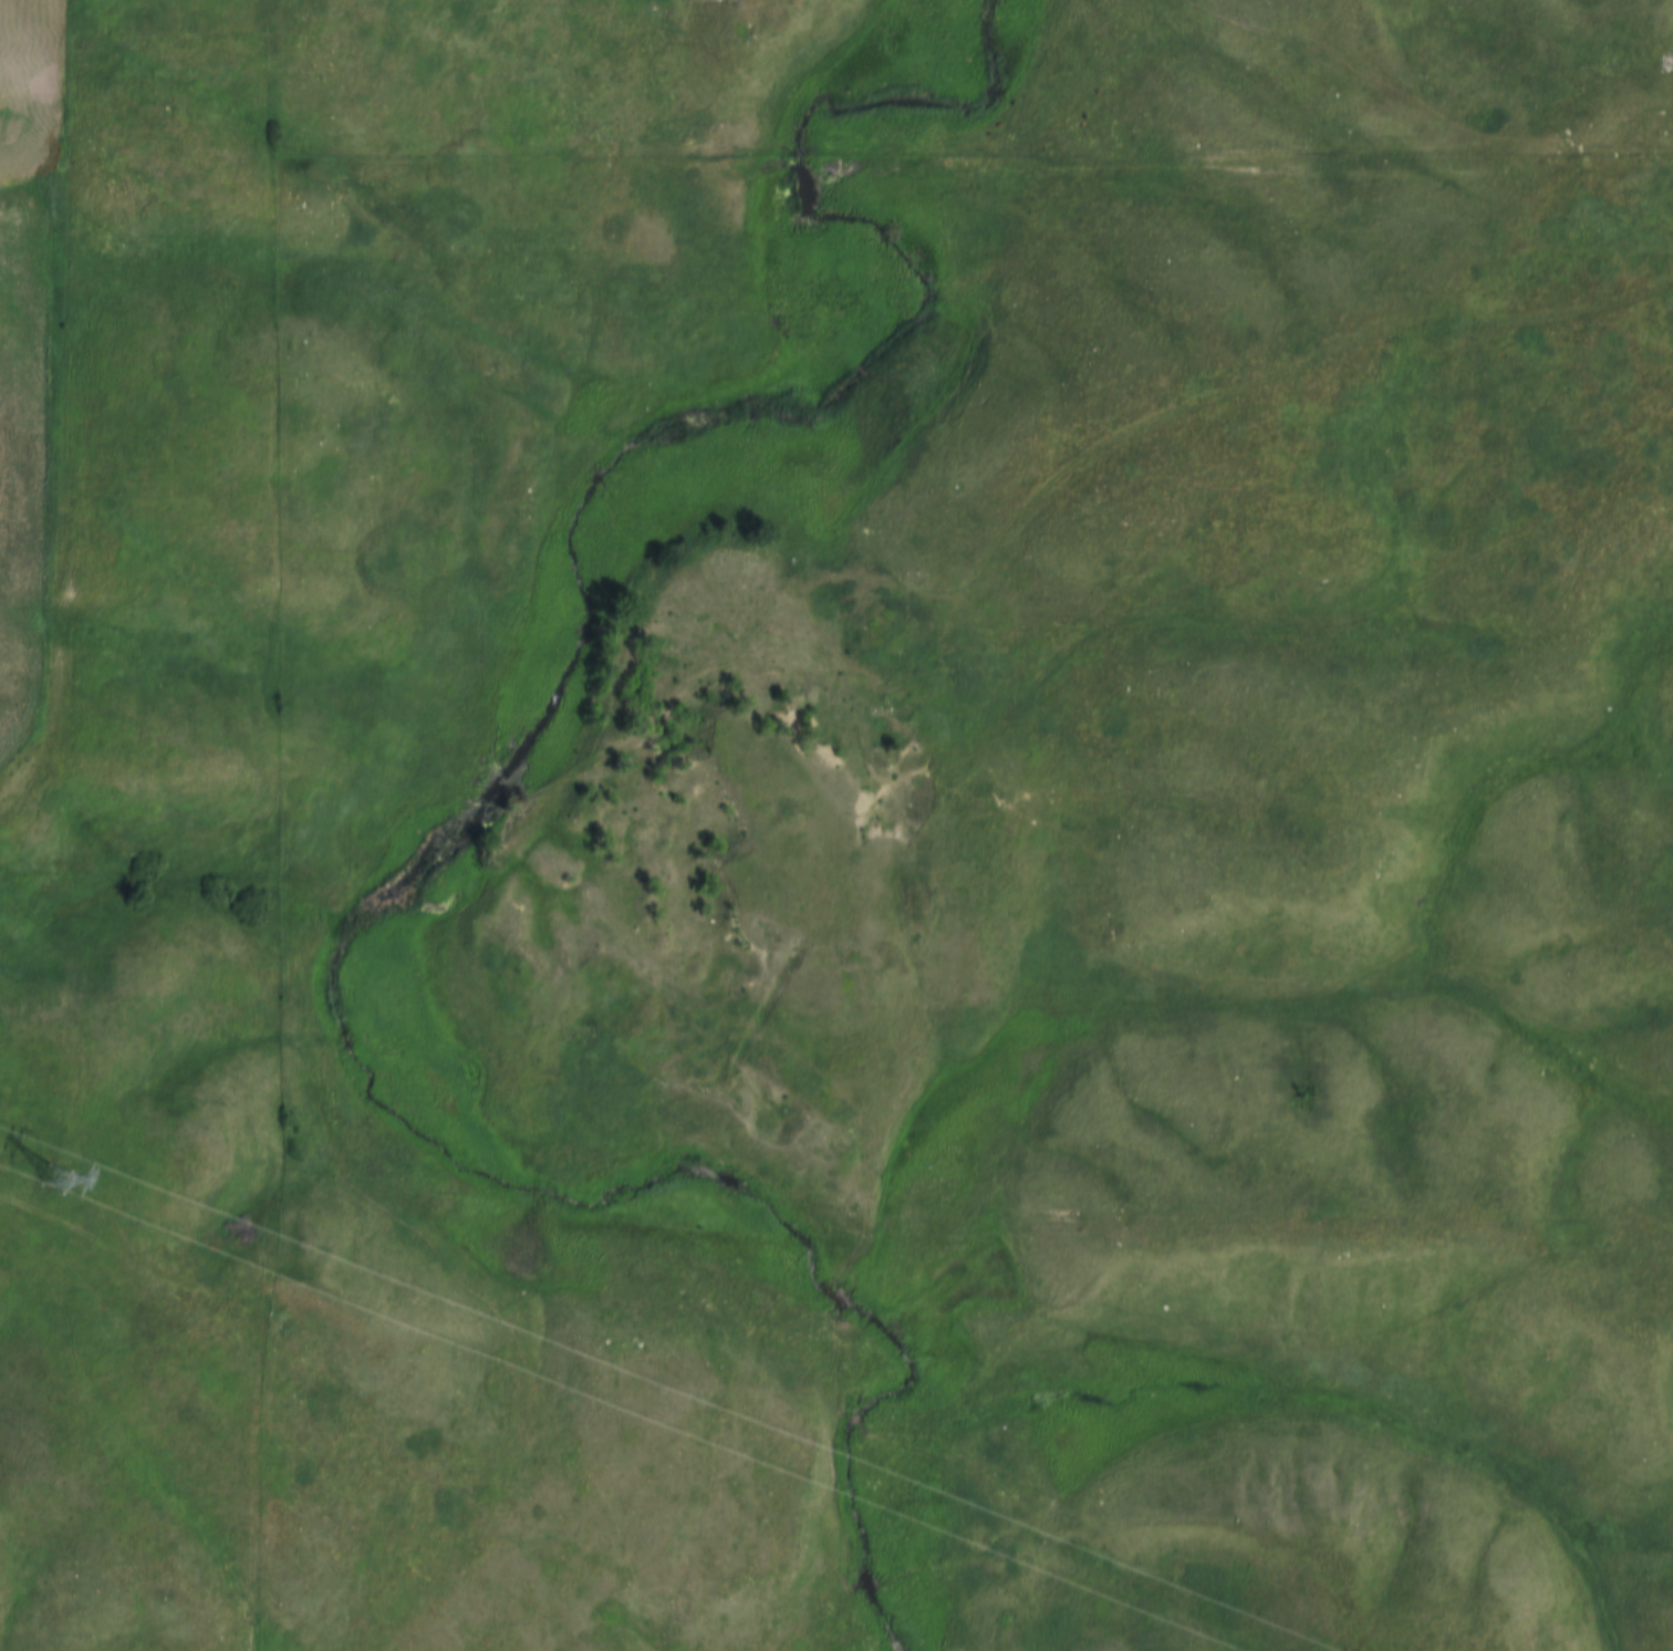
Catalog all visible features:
road: (1254, 166)
road: (801, 167)
road: (384, 169)
road: (1121, 440)
power tower: (61, 1185)

